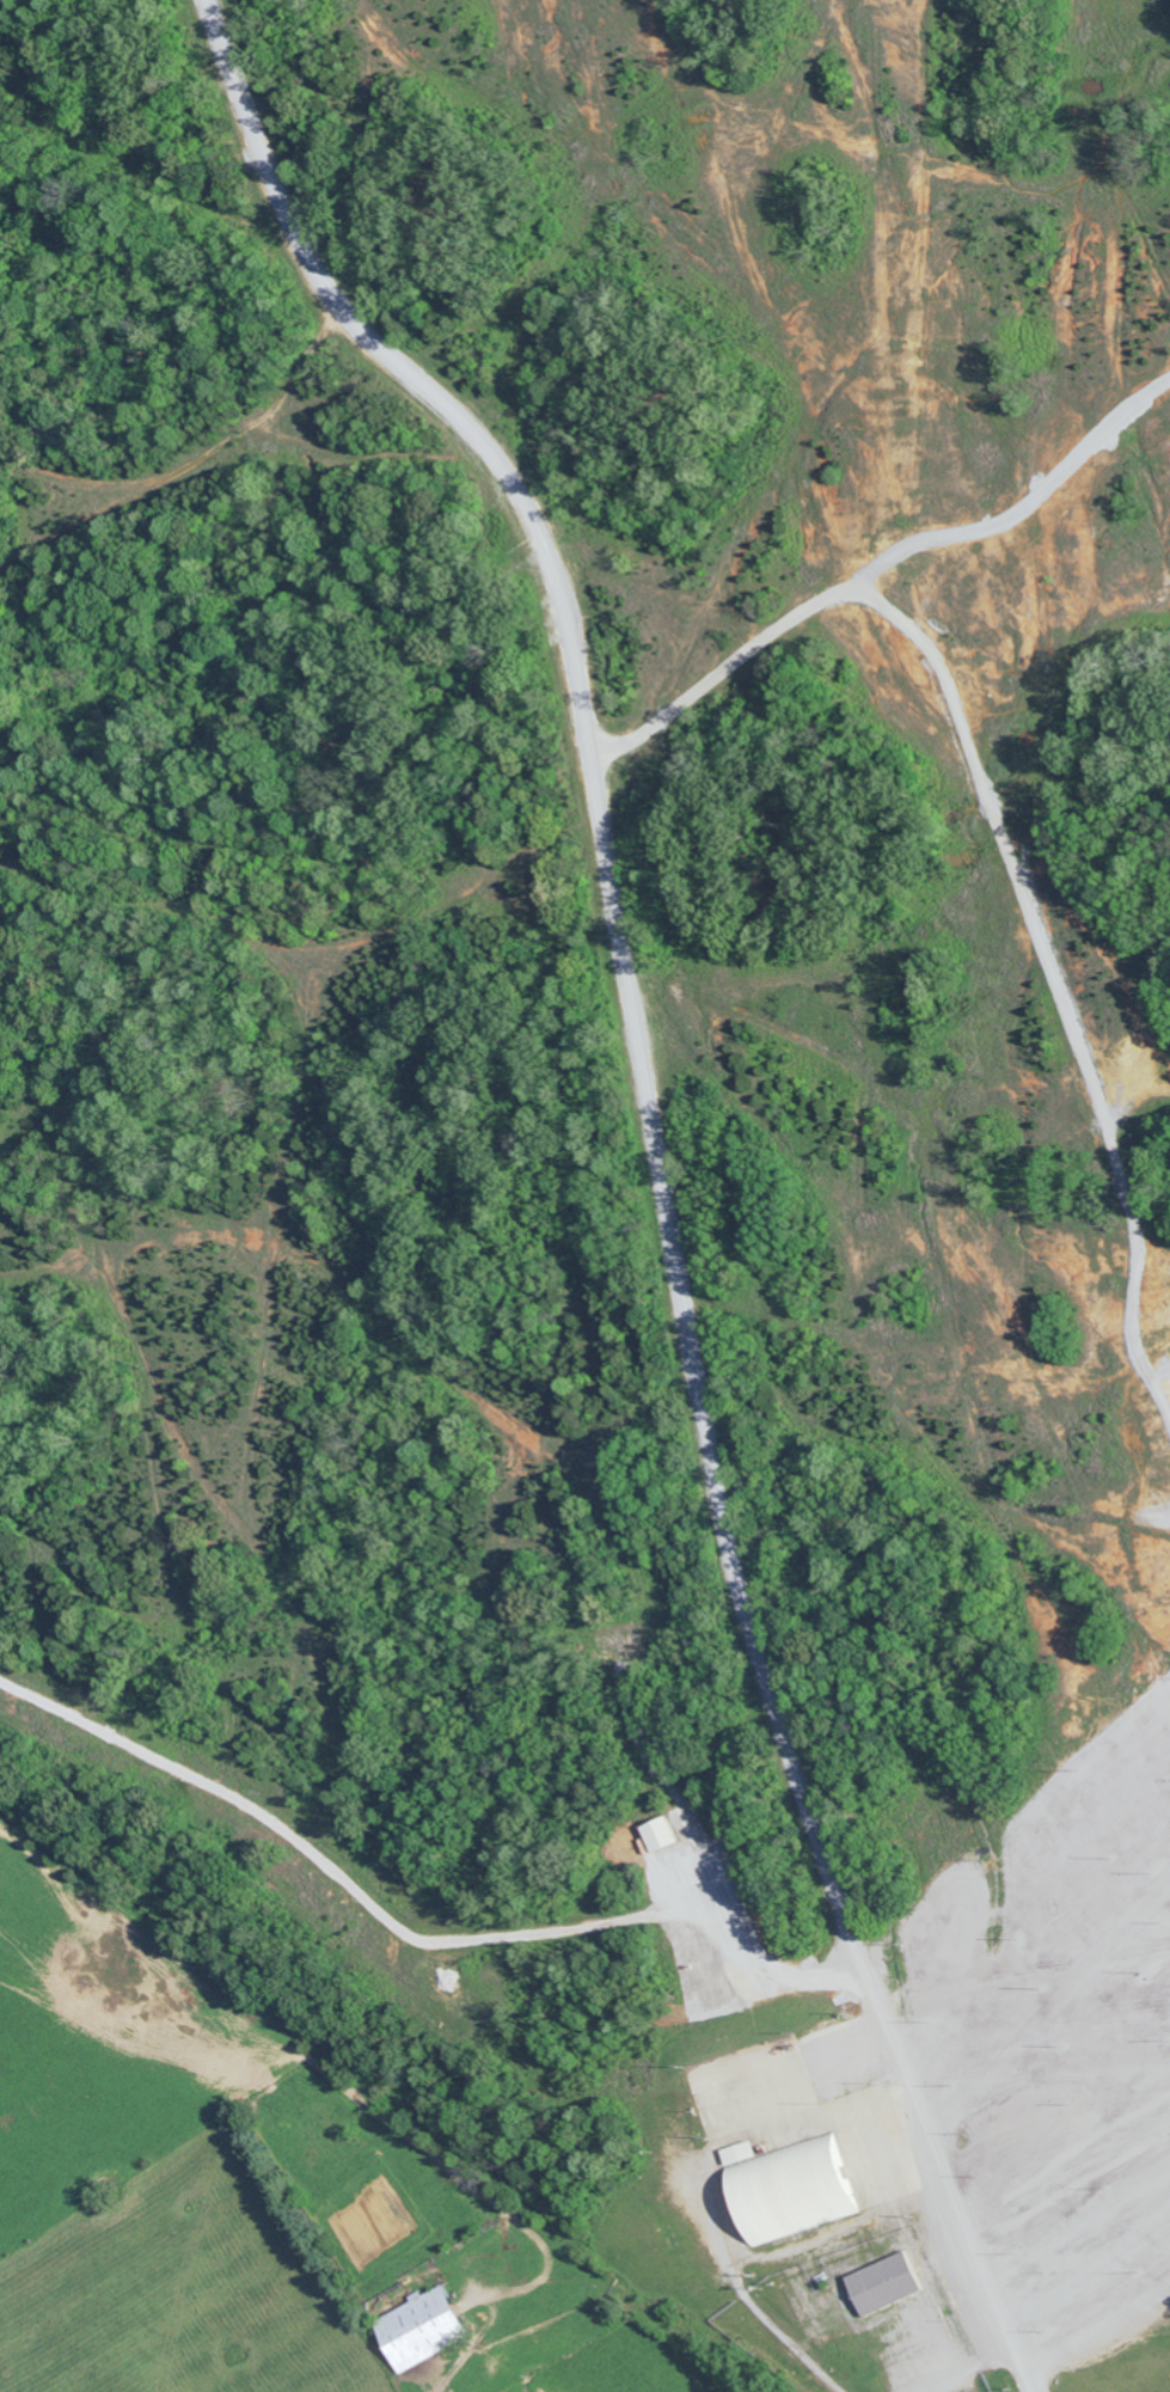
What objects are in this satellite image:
road: (1003, 840)
road: (660, 1166)
building: (657, 1833)
road: (694, 1902)
road: (1065, 2019)
road: (1055, 2130)
building: (785, 2188)
building: (882, 2283)
building: (418, 2327)
road: (1101, 2327)

